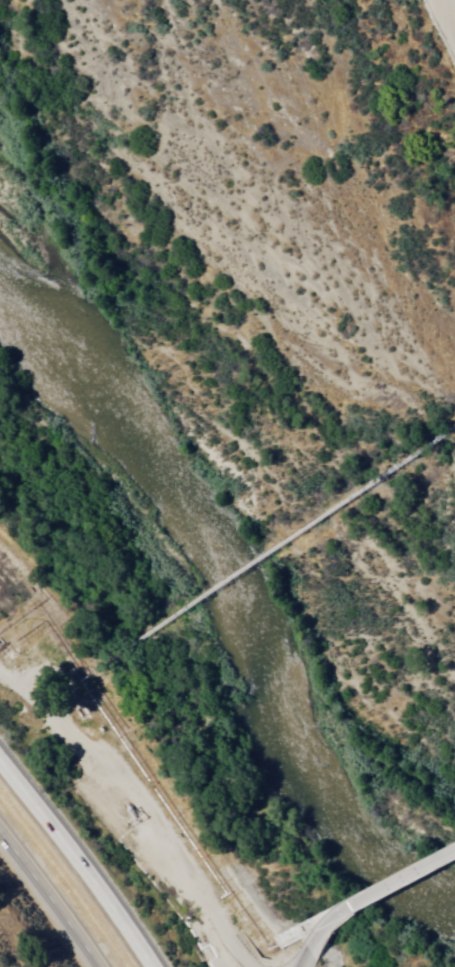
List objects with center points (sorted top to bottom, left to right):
road: (432, 48)
river: (123, 445)
river: (318, 802)
road: (125, 804)
road: (79, 862)
road: (373, 895)
road: (49, 900)
road: (303, 961)

